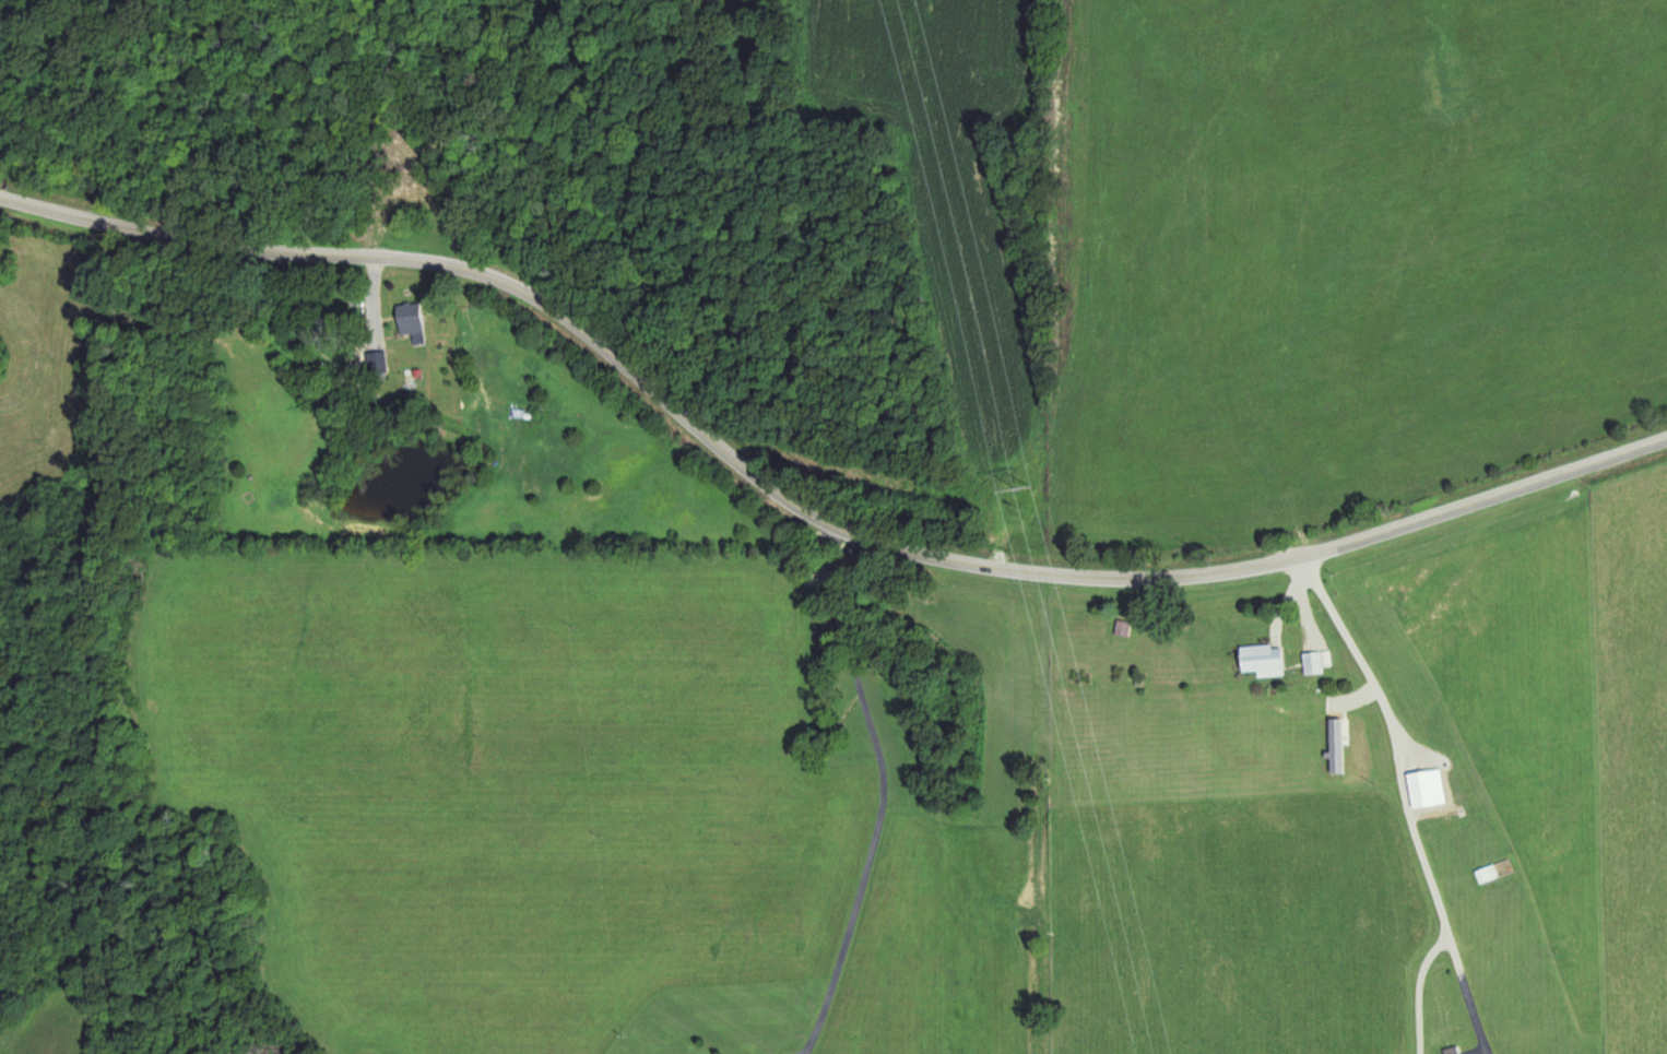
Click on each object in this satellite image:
building: (410, 193)
building: (414, 321)
power tower: (1028, 494)
road: (806, 507)
building: (1122, 627)
building: (1264, 658)
building: (1313, 662)
building: (1429, 787)
road: (1403, 795)
building: (1487, 873)
building: (1444, 1021)
building: (1458, 1053)

